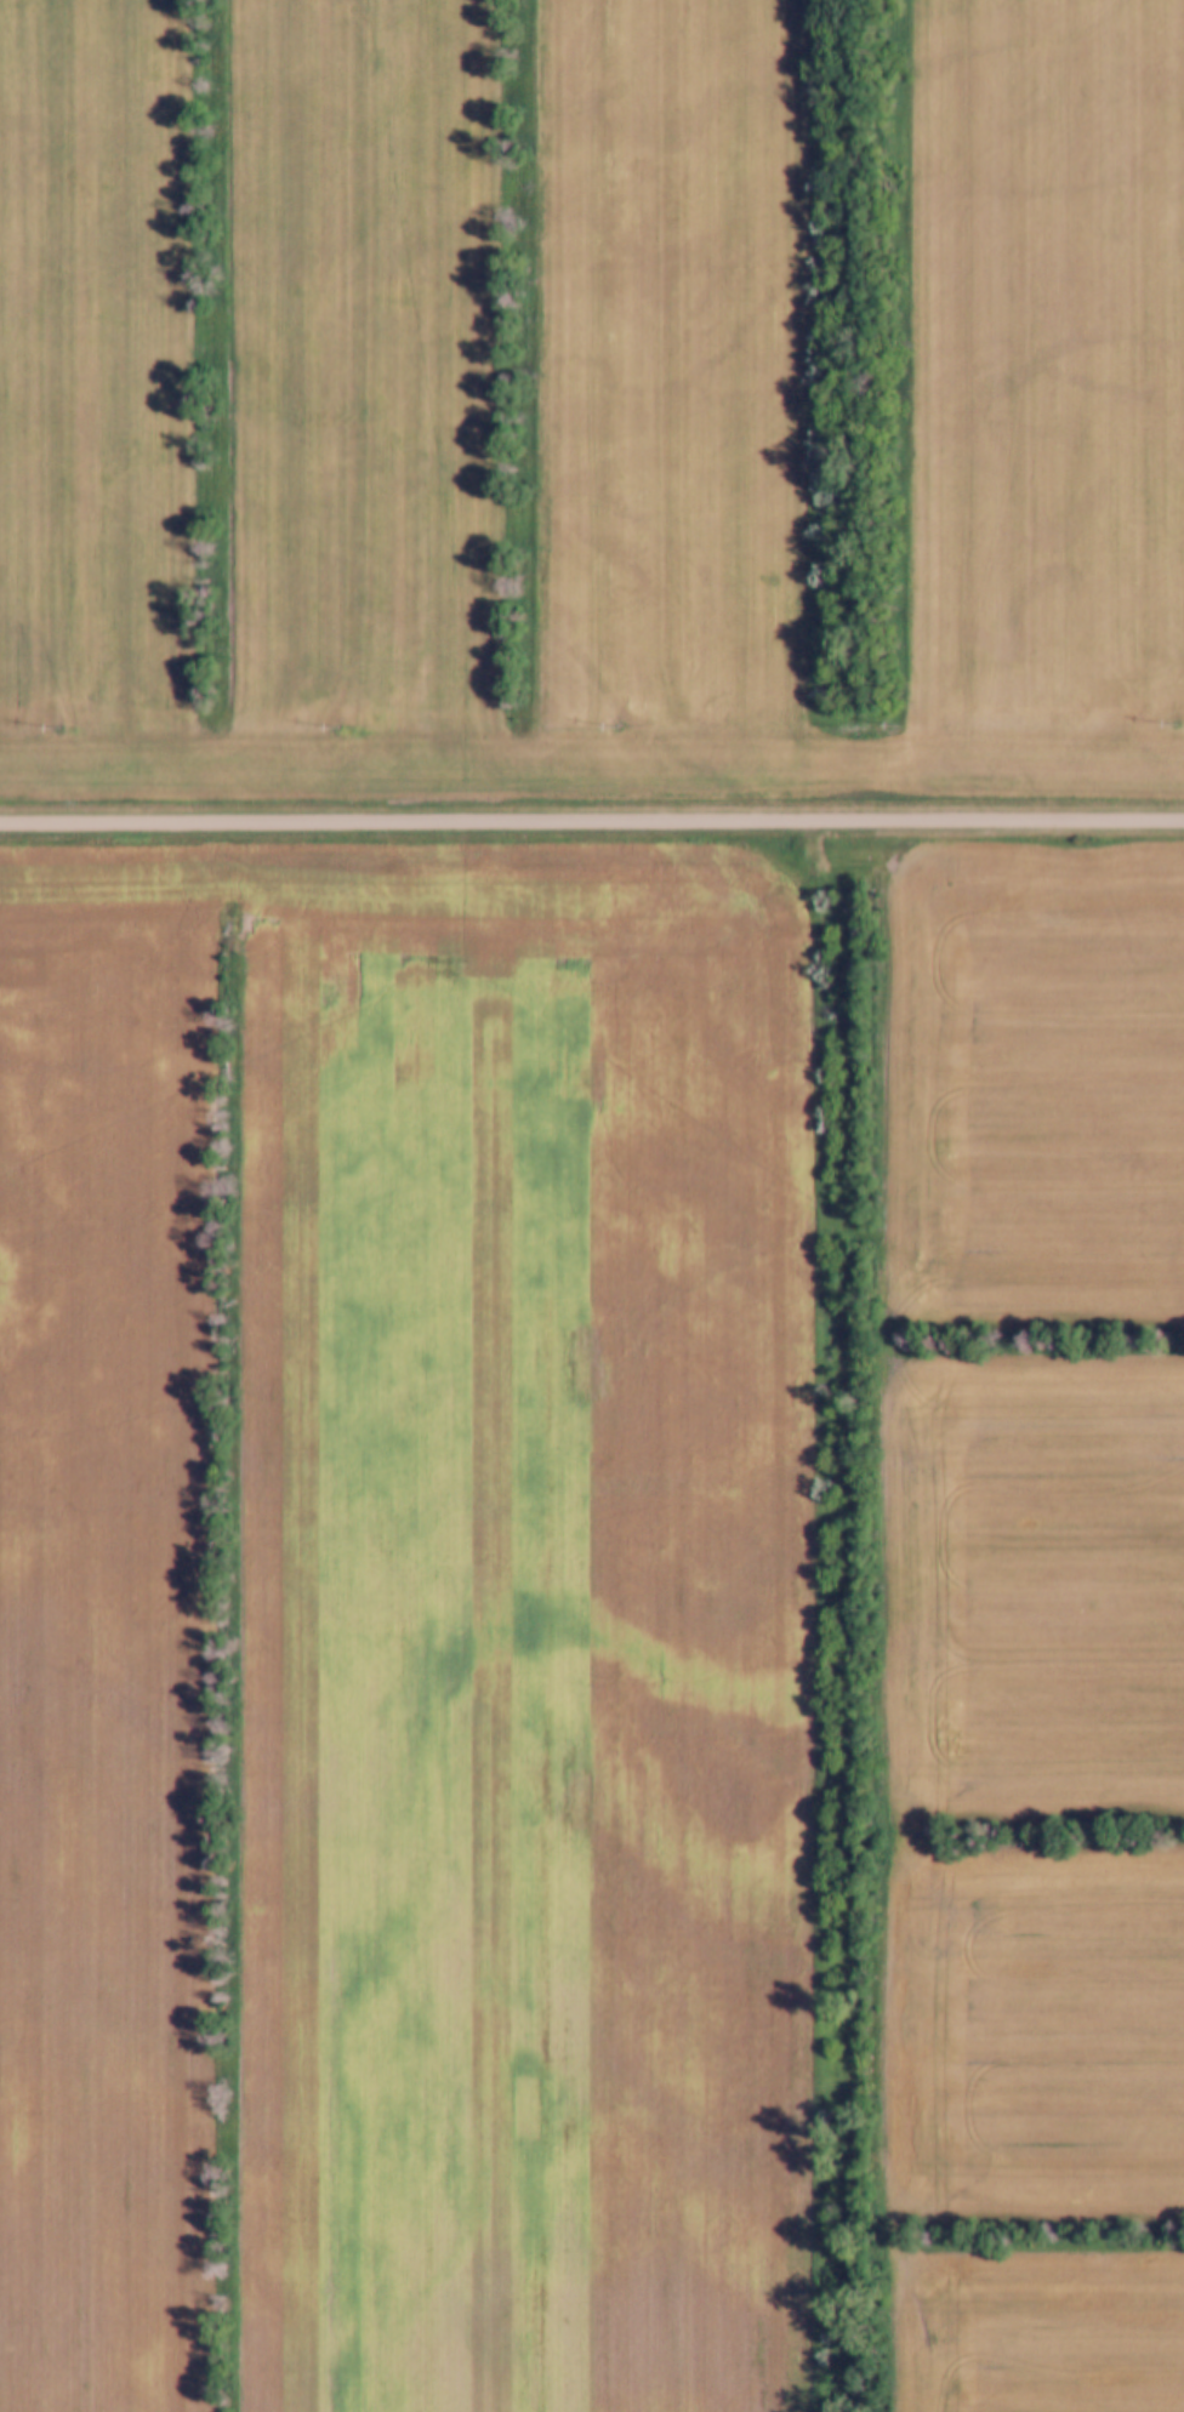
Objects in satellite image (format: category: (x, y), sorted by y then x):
road: (591, 823)

